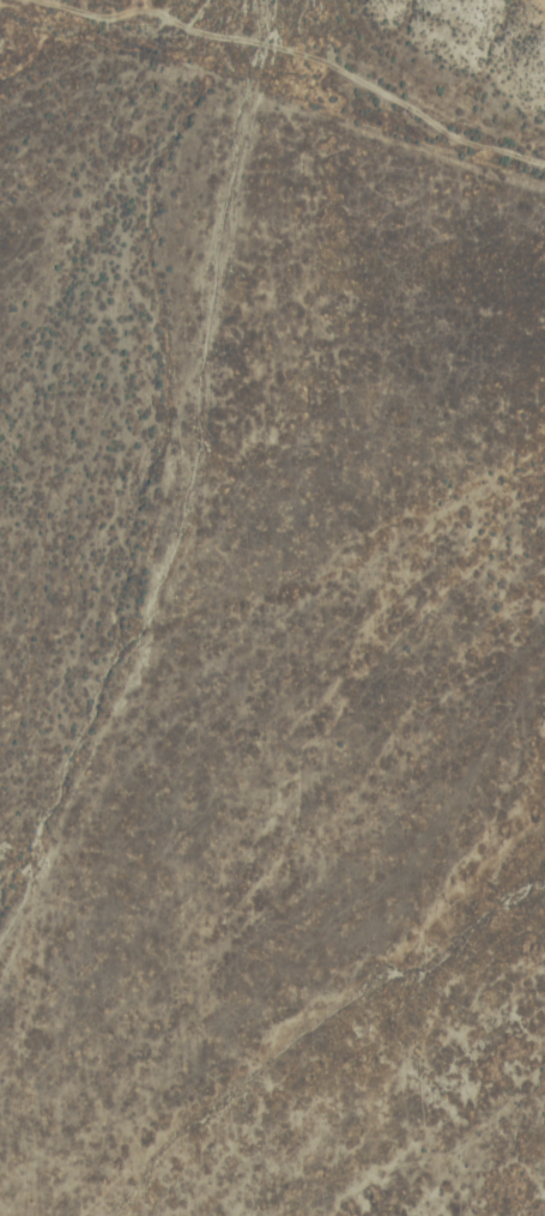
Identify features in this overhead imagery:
road: (302, 53)

